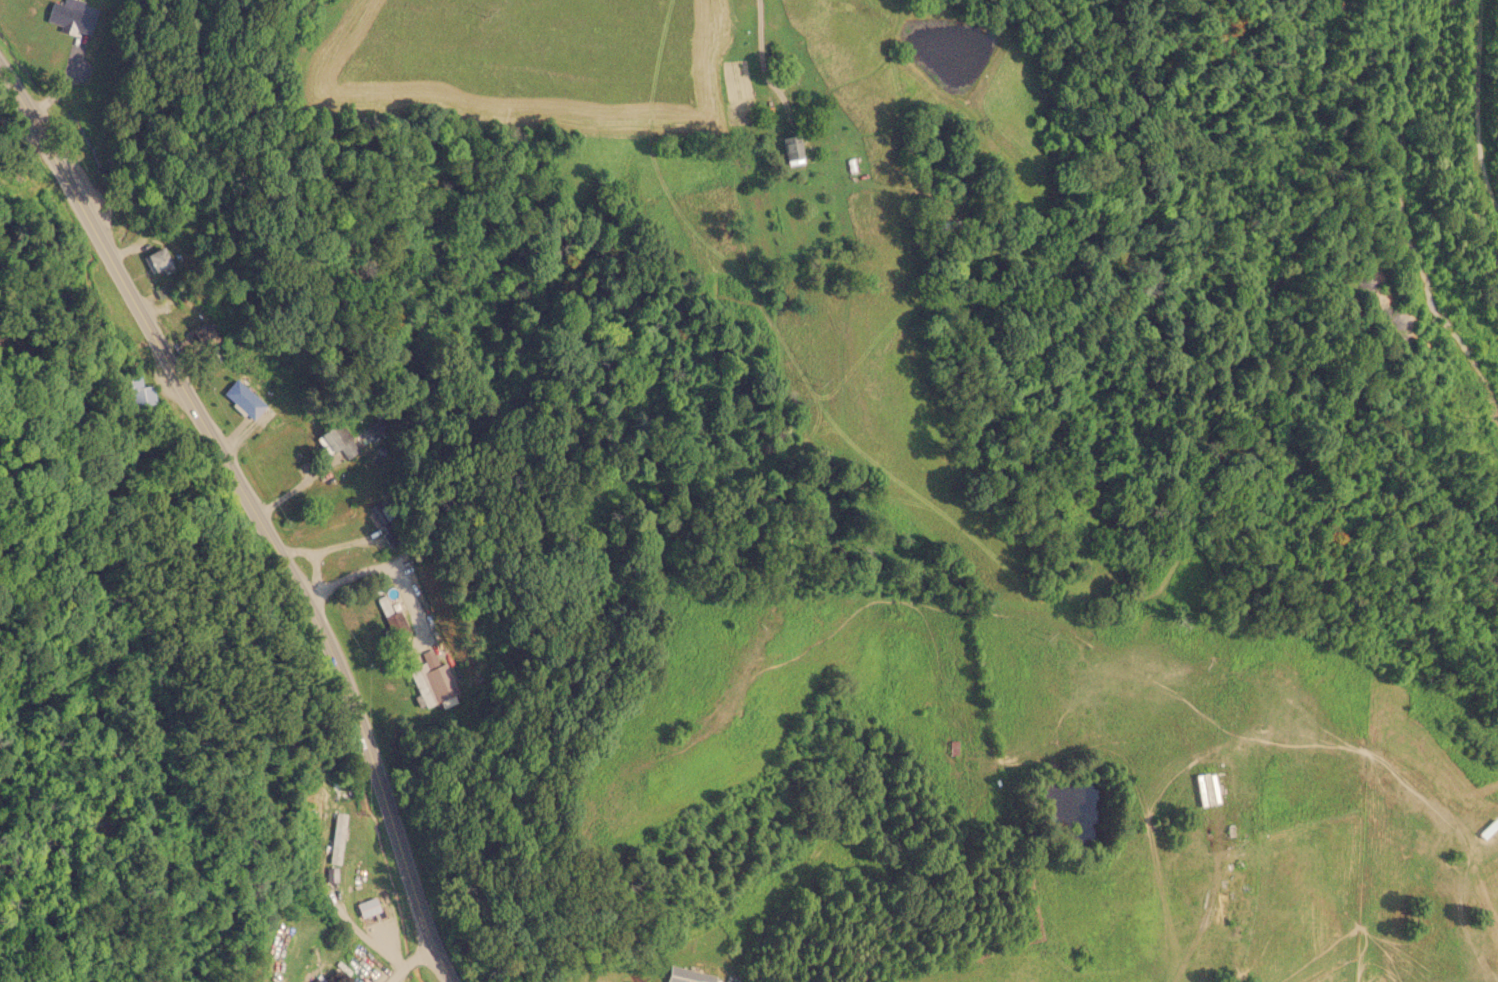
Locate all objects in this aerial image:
building: (72, 15)
road: (175, 107)
building: (789, 149)
building: (951, 225)
building: (156, 259)
road: (1255, 327)
building: (204, 338)
building: (136, 390)
building: (243, 398)
building: (337, 440)
building: (377, 511)
road: (255, 513)
road: (1359, 553)
building: (396, 624)
building: (432, 679)
building: (1203, 790)
building: (1486, 830)
building: (335, 838)
building: (365, 962)
road: (412, 964)
building: (688, 975)
building: (316, 980)

